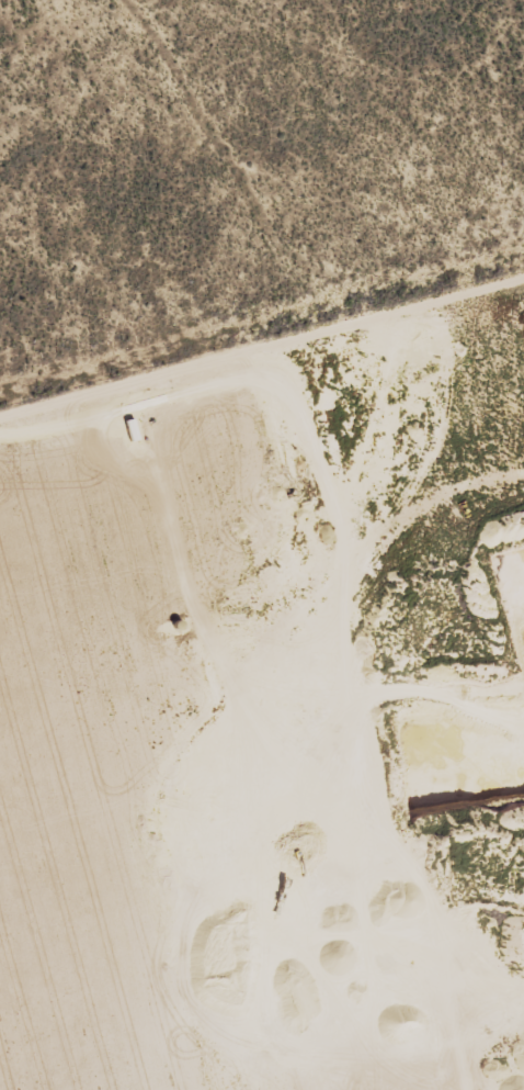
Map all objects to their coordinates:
road: (269, 169)
road: (261, 370)

